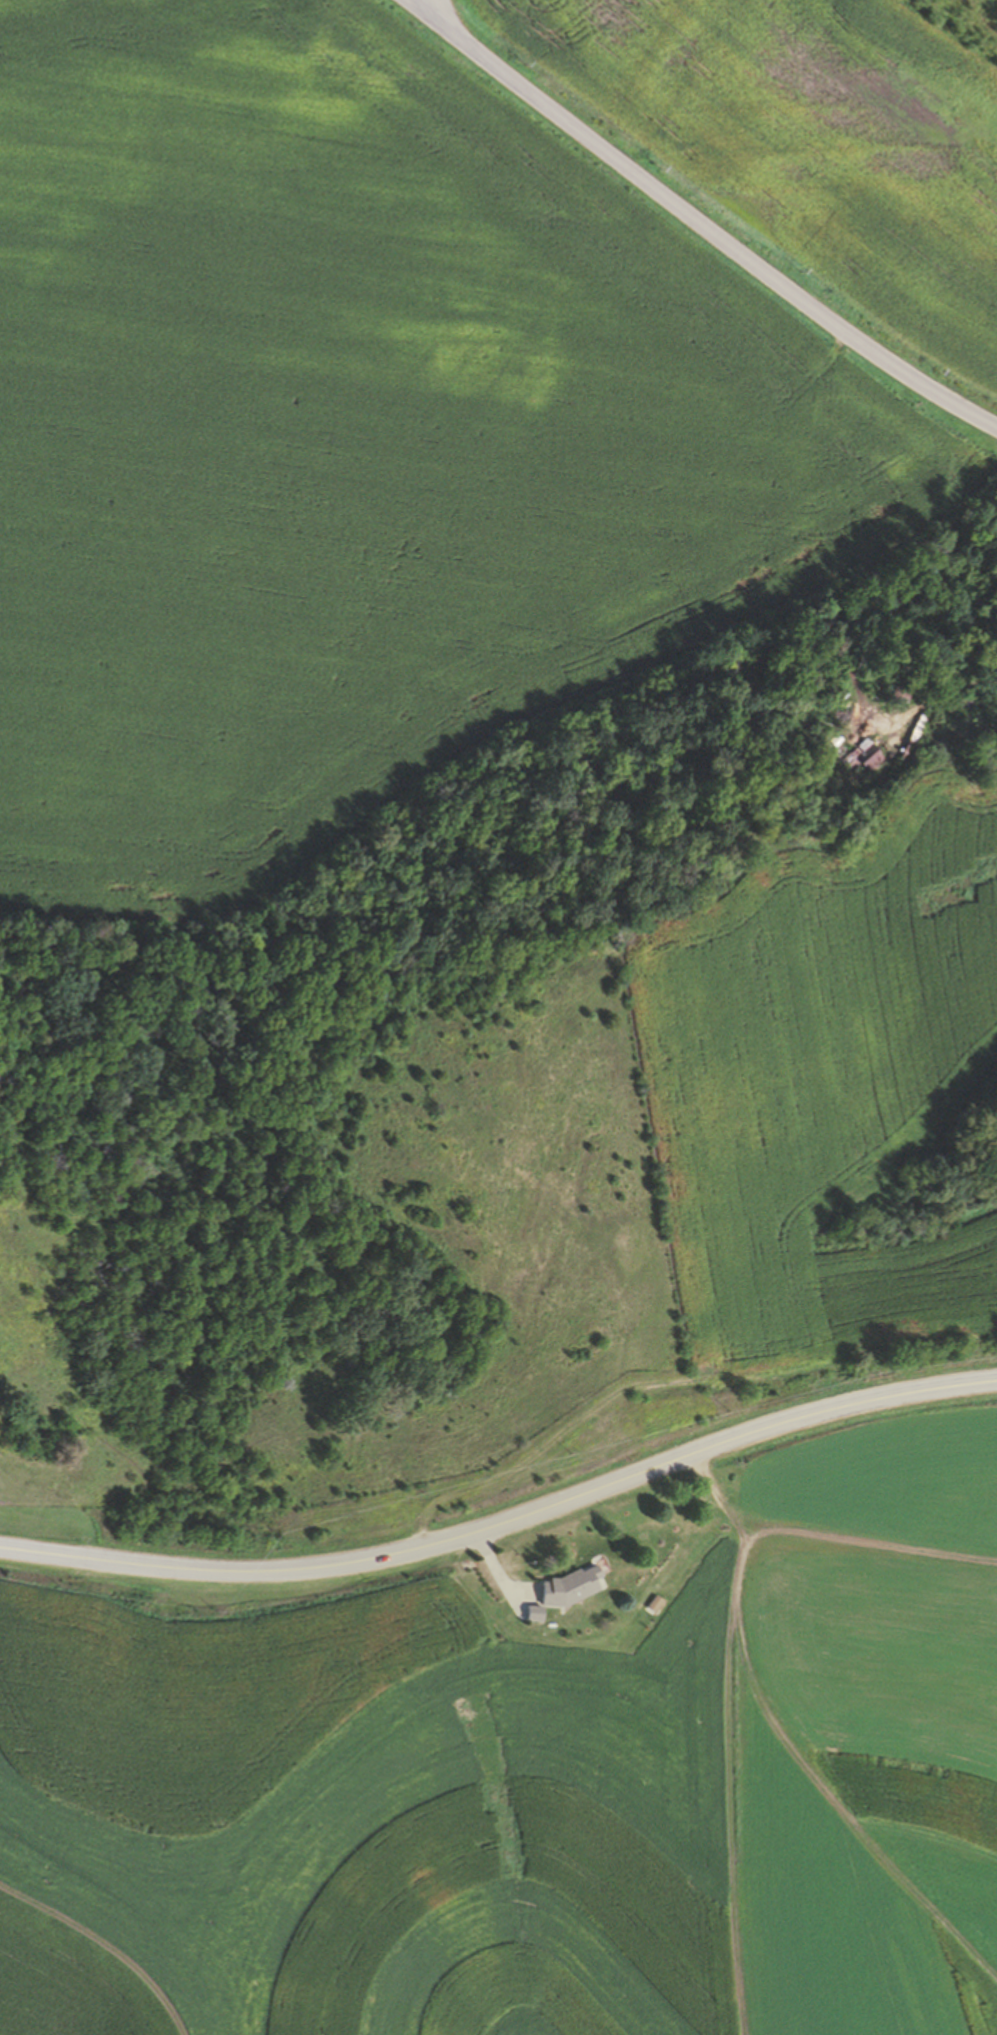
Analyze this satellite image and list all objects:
road: (417, 6)
road: (426, 6)
road: (706, 226)
building: (901, 693)
road: (951, 693)
building: (965, 704)
building: (863, 756)
road: (505, 1521)
road: (818, 1550)
building: (575, 1587)
building: (538, 1614)
road: (731, 1788)
road: (843, 1800)

